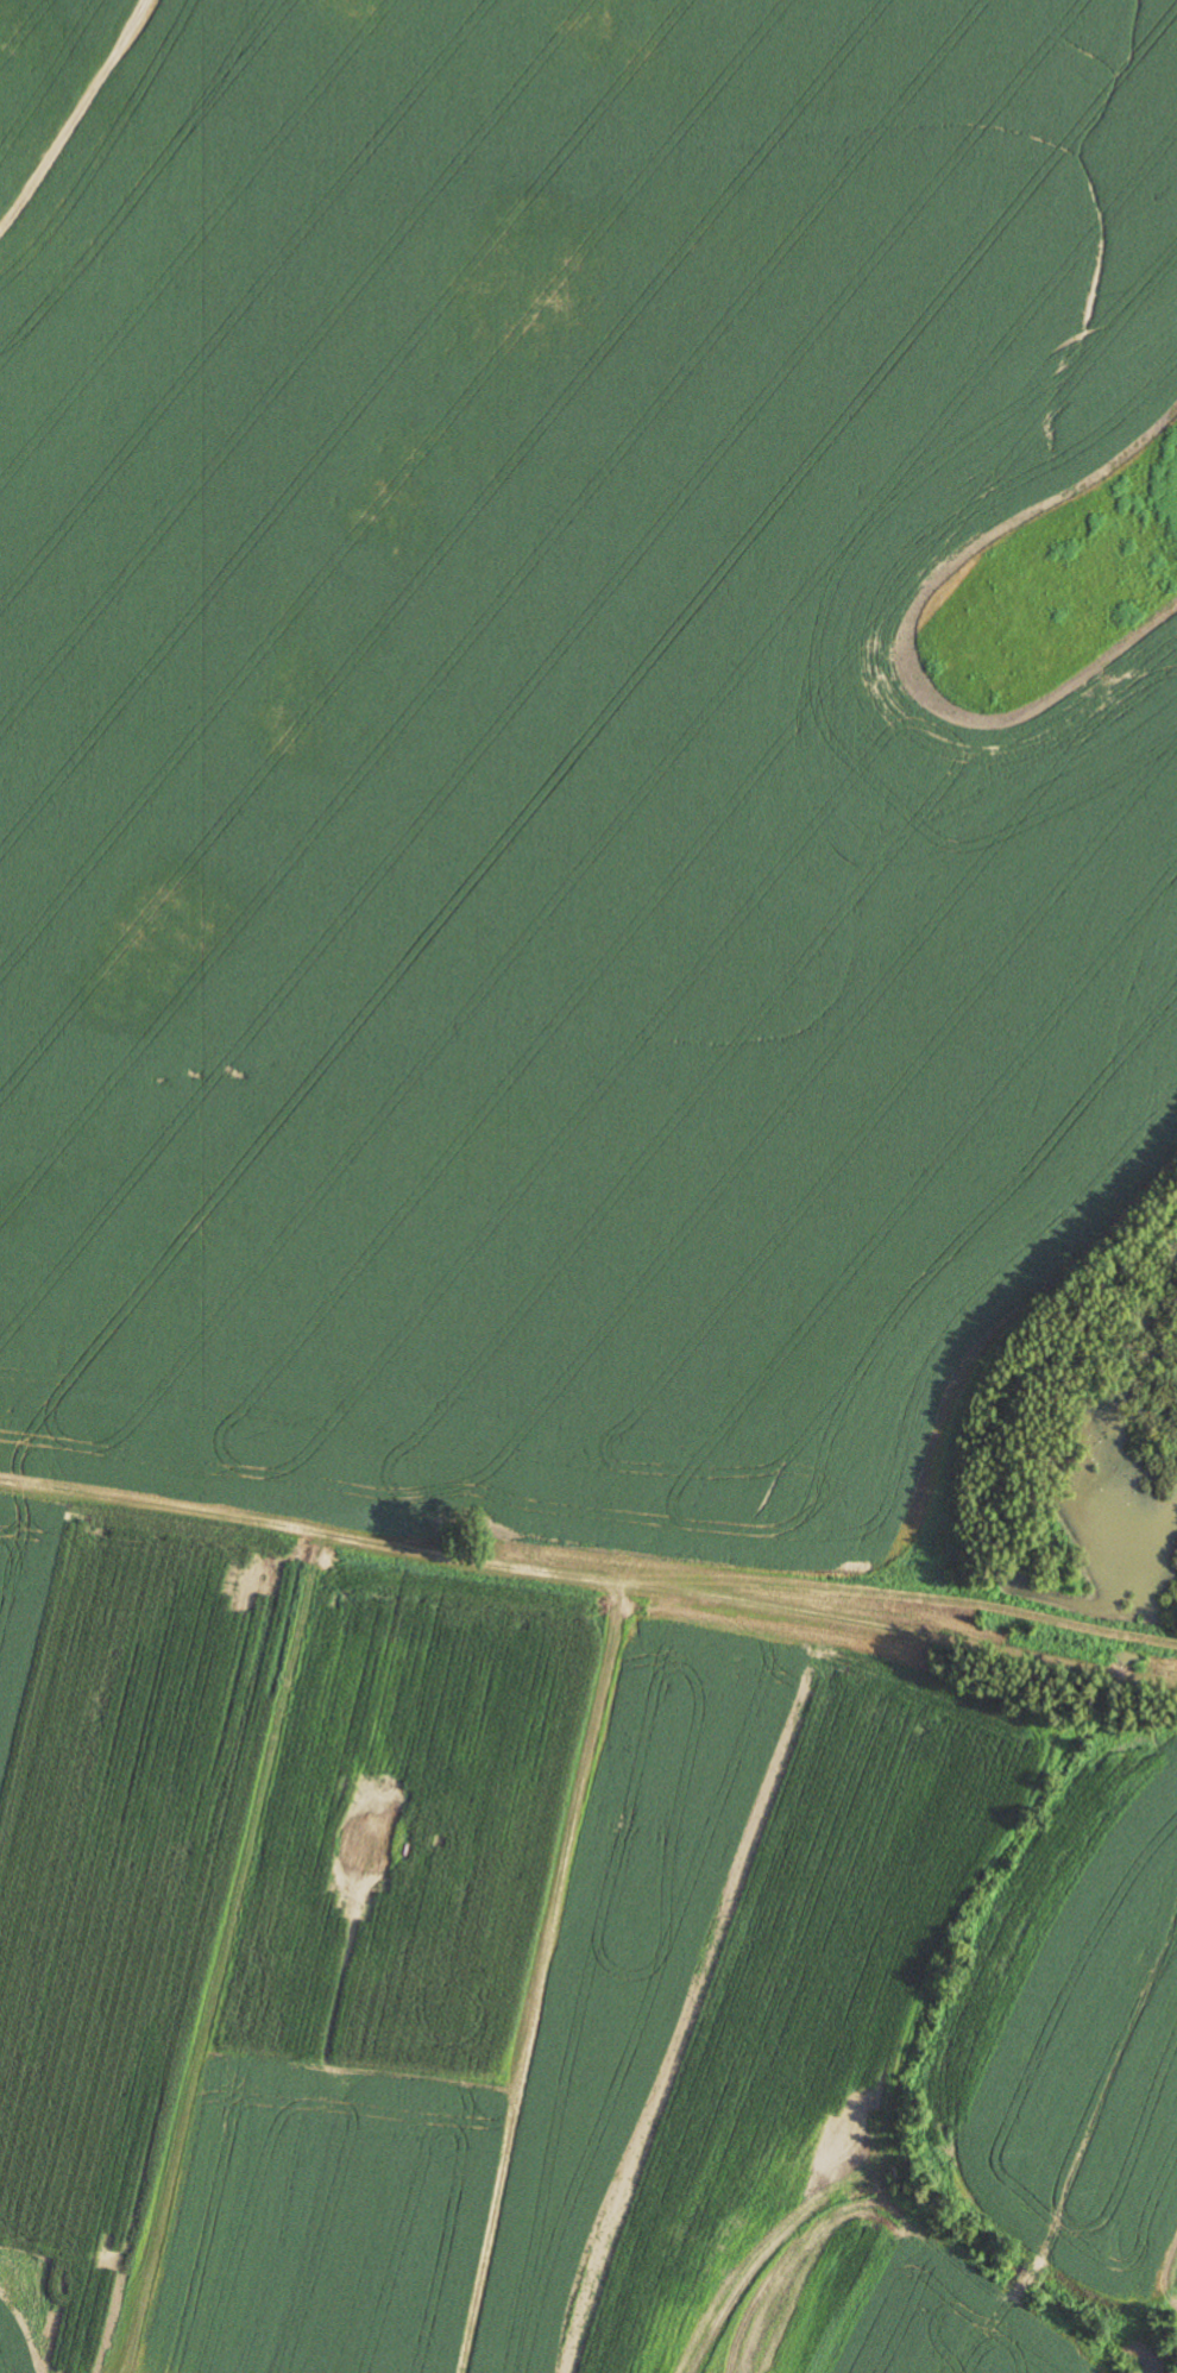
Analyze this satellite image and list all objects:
road: (1012, 67)
road: (969, 78)

